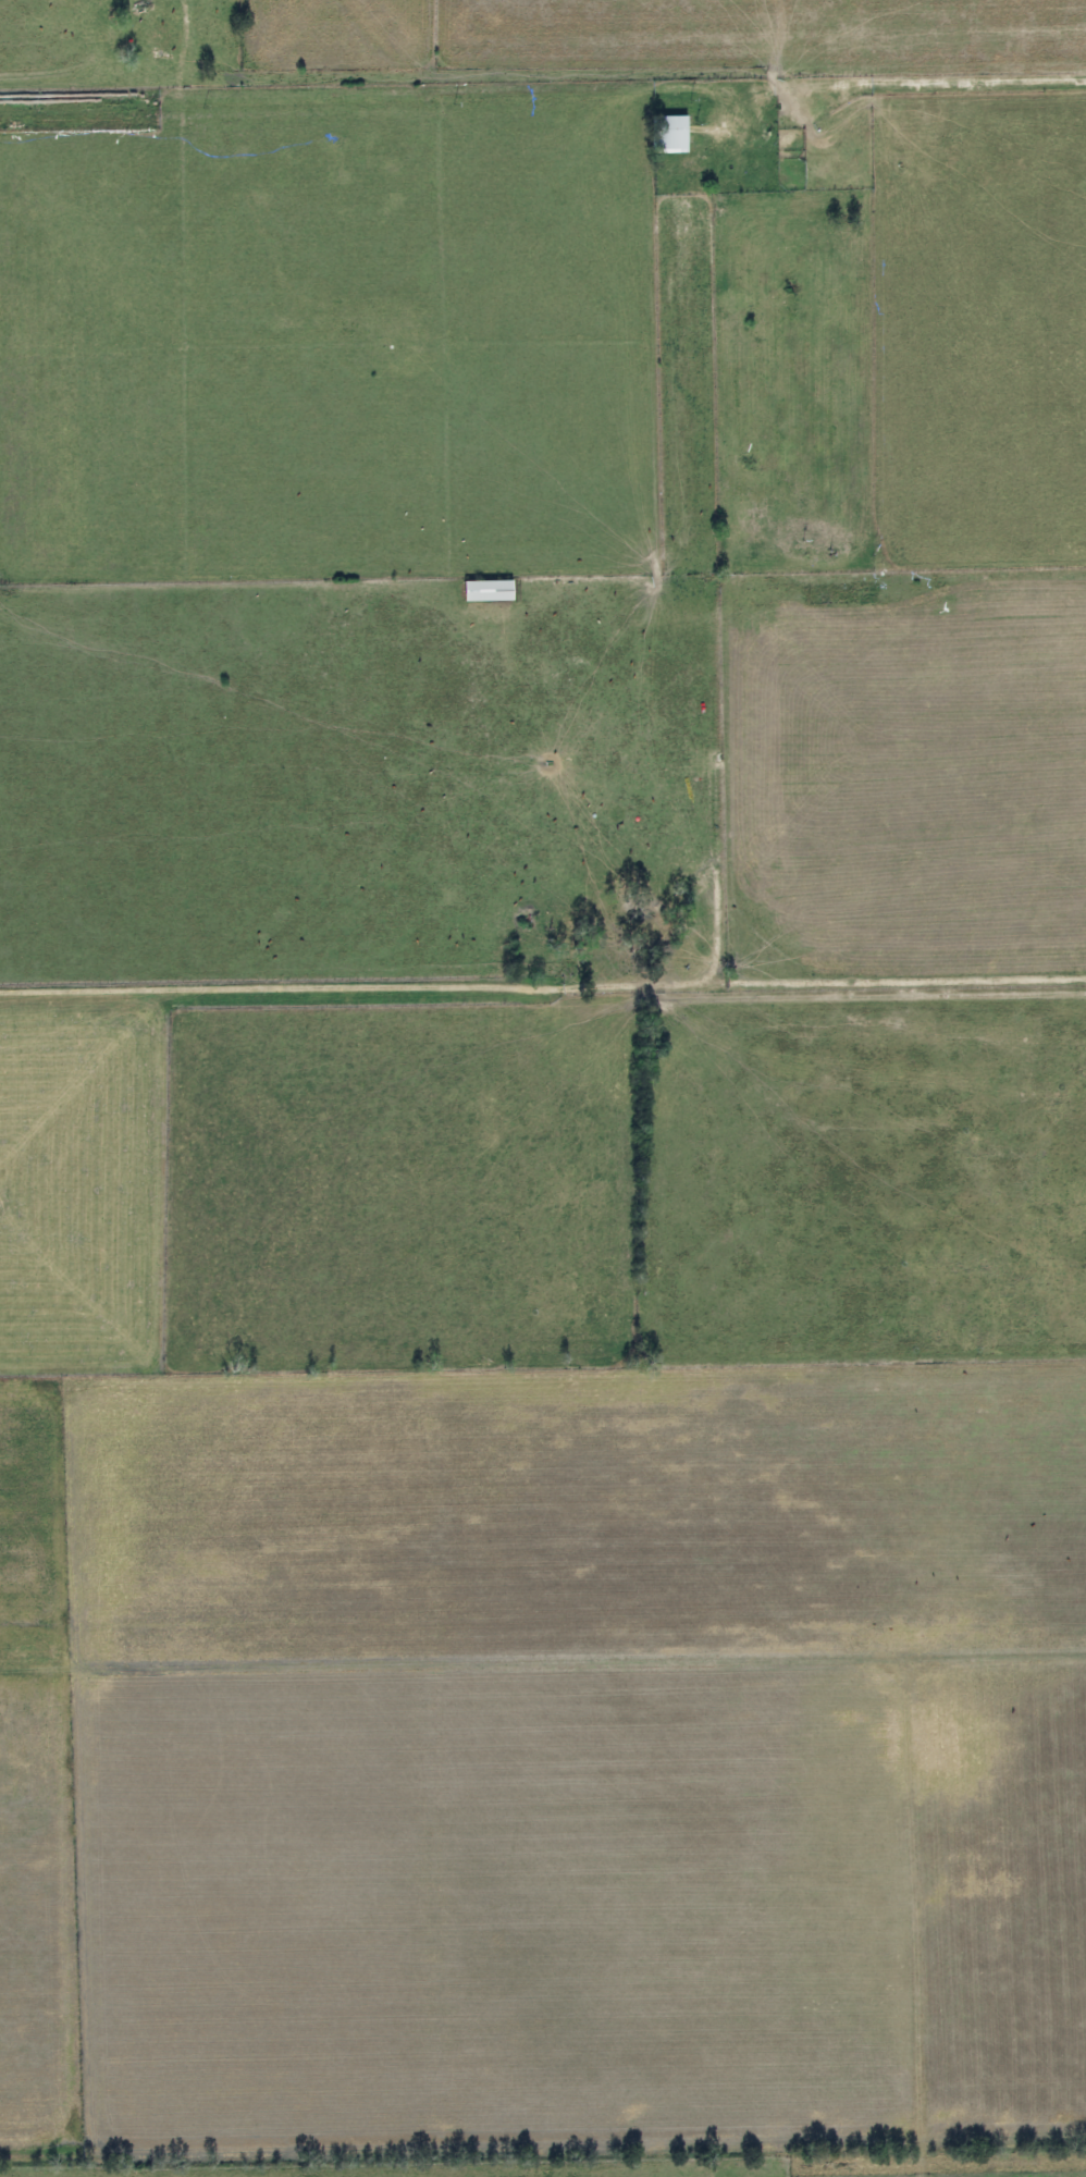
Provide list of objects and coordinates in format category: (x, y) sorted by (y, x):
building: (659, 134)
building: (478, 591)

